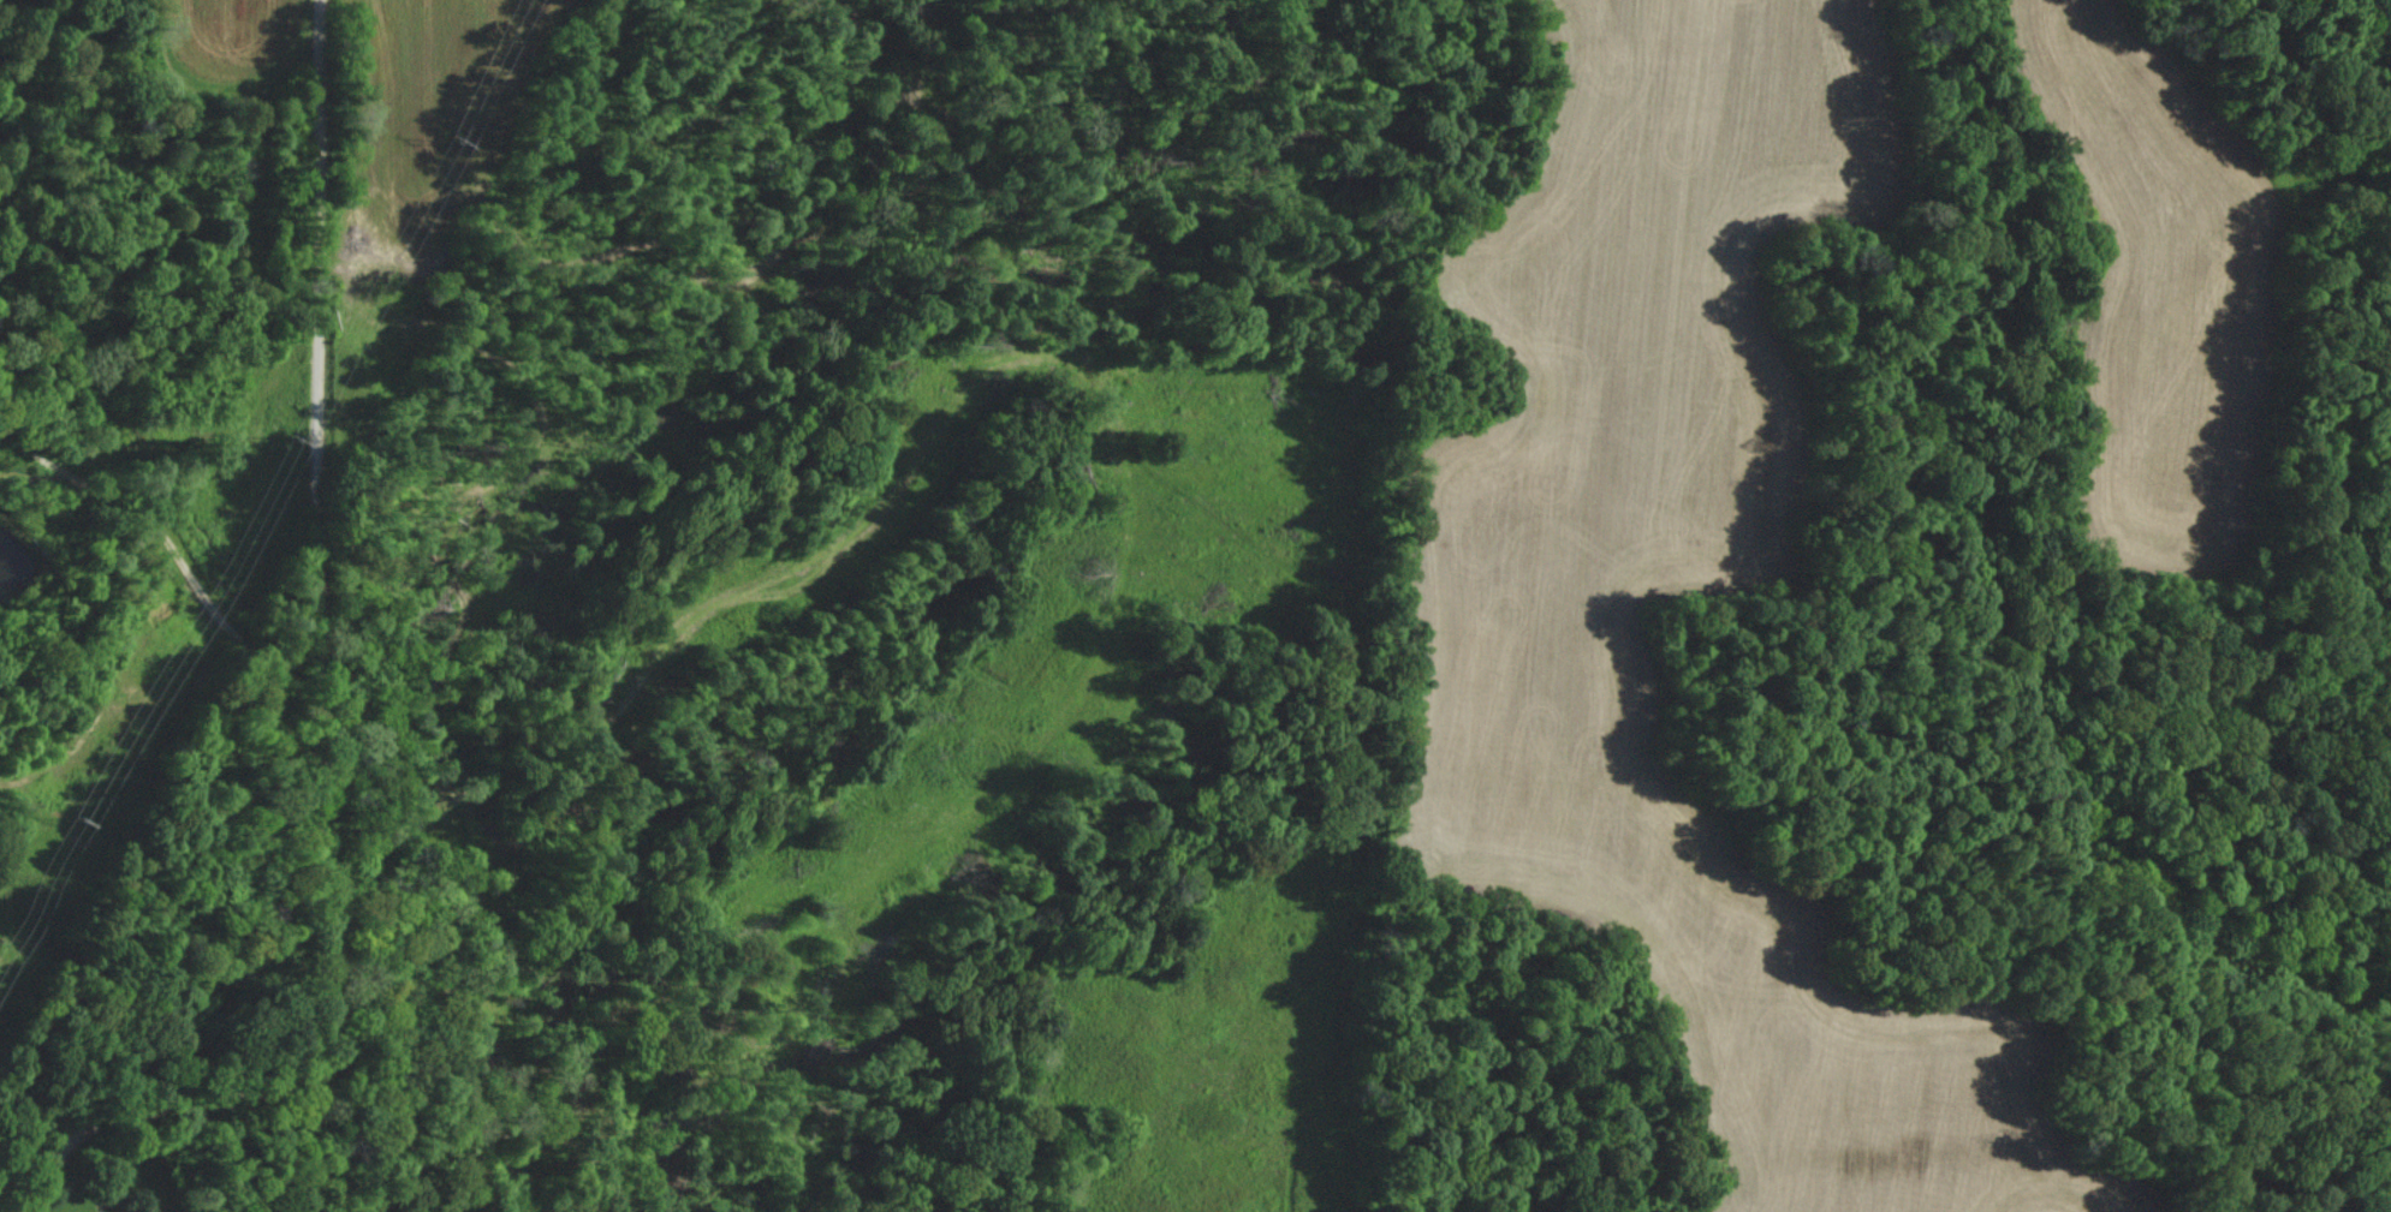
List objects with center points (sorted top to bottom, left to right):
power tower: (466, 139)
power tower: (291, 432)
road: (174, 536)
road: (313, 711)
power tower: (76, 818)

